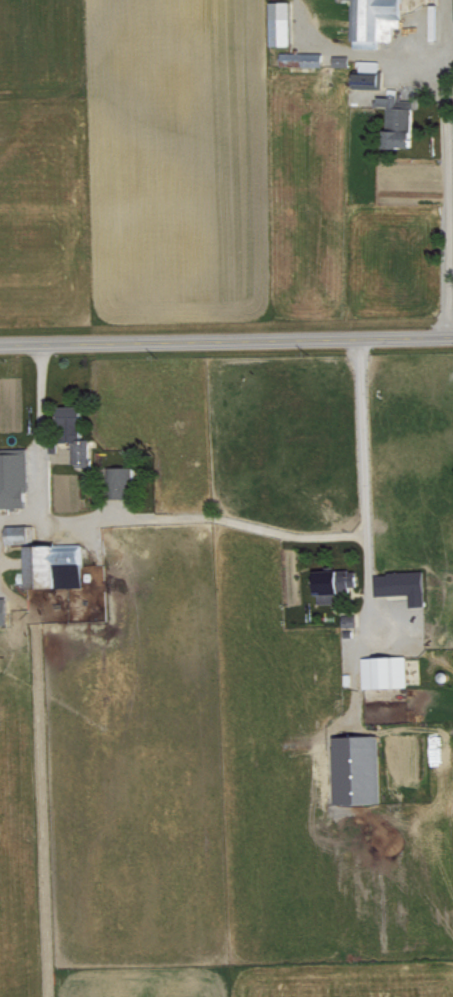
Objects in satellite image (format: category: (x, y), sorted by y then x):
building: (376, 21)
building: (281, 22)
road: (367, 54)
building: (302, 58)
building: (341, 60)
building: (368, 79)
building: (399, 117)
road: (447, 168)
road: (226, 342)
building: (76, 432)
building: (14, 477)
building: (122, 480)
road: (215, 515)
building: (19, 533)
building: (54, 565)
building: (335, 582)
road: (369, 584)
building: (403, 584)
building: (4, 610)
building: (385, 671)
building: (358, 769)

